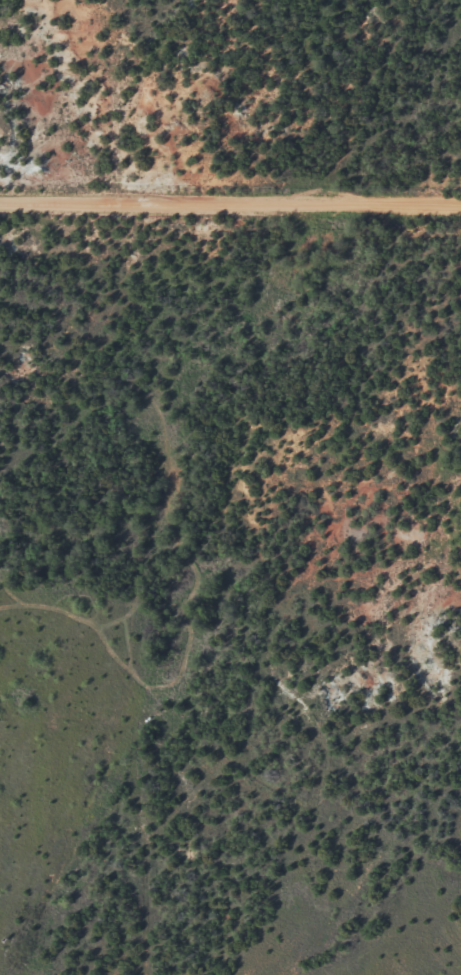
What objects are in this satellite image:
road: (230, 200)

